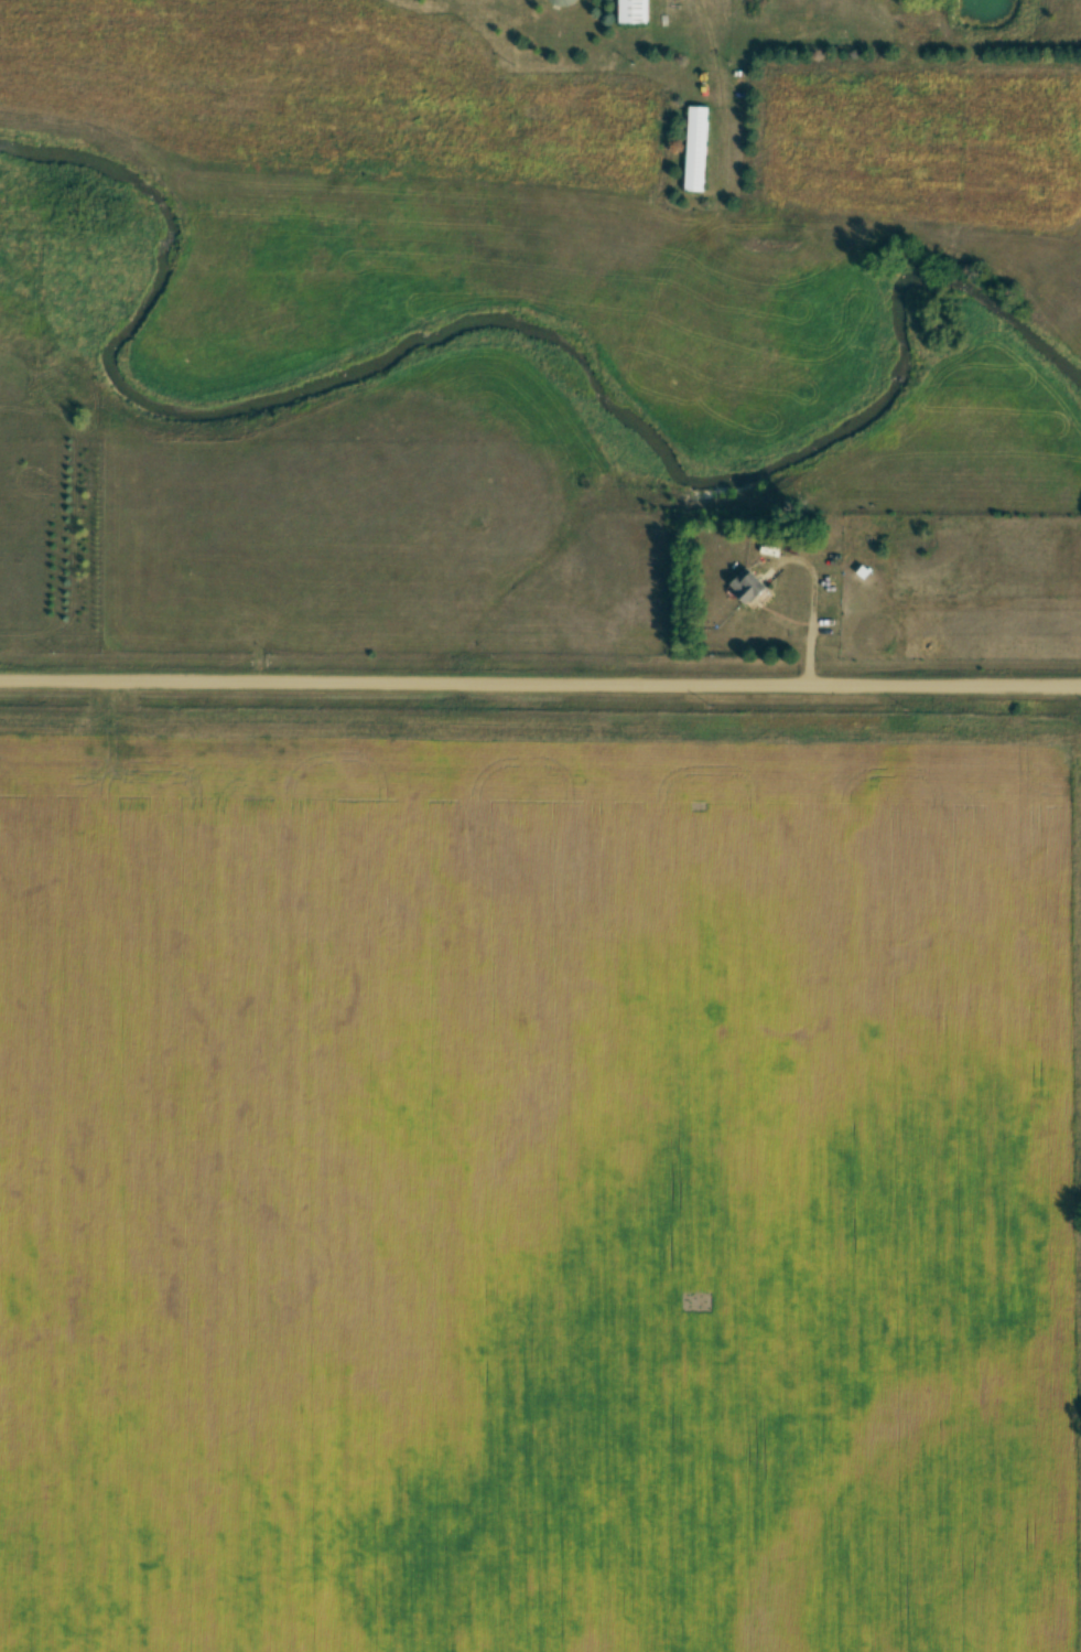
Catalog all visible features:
building: (563, 2)
building: (633, 12)
building: (695, 150)
building: (748, 588)
road: (808, 598)
road: (540, 685)

